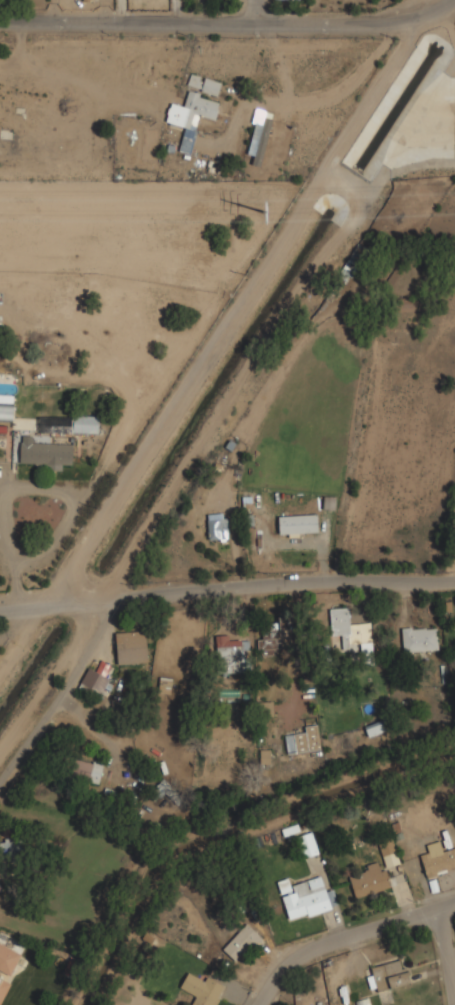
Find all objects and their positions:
building: (87, 0)
road: (257, 8)
road: (225, 17)
building: (211, 86)
building: (21, 99)
building: (192, 114)
building: (261, 134)
power tower: (267, 213)
road: (234, 313)
building: (6, 406)
building: (55, 424)
building: (87, 425)
building: (45, 453)
road: (23, 487)
building: (297, 524)
building: (218, 528)
road: (227, 590)
building: (454, 627)
building: (454, 628)
building: (352, 632)
building: (280, 636)
building: (420, 639)
building: (132, 648)
building: (231, 653)
building: (94, 681)
building: (165, 685)
road: (58, 692)
building: (376, 727)
building: (206, 732)
building: (304, 741)
building: (266, 756)
building: (87, 771)
building: (160, 790)
building: (308, 844)
building: (11, 849)
building: (390, 853)
building: (438, 859)
building: (368, 881)
building: (308, 898)
road: (346, 937)
building: (241, 941)
road: (447, 954)
building: (8, 959)
building: (388, 976)
building: (4, 987)
building: (204, 989)
building: (364, 1001)

